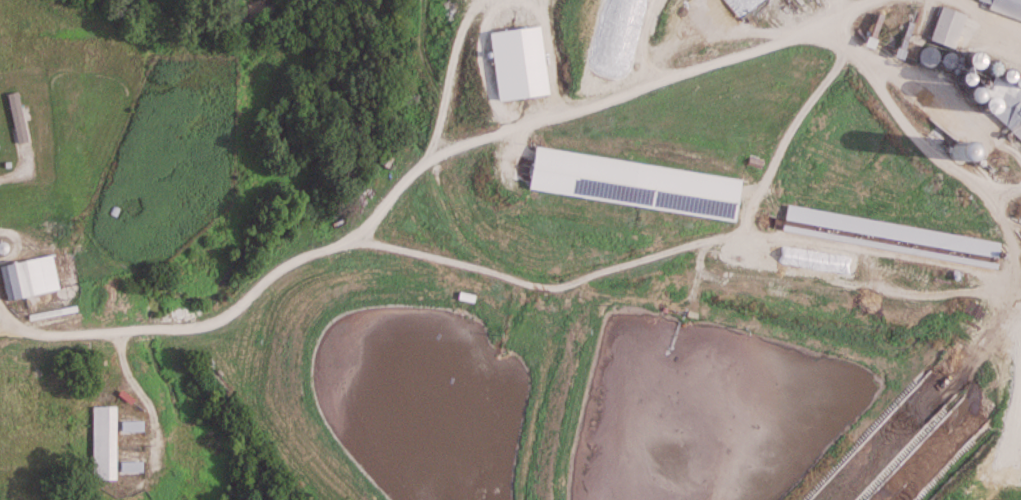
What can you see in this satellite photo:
building: (741, 6)
building: (1002, 9)
road: (983, 13)
river: (208, 28)
building: (1009, 111)
road: (413, 172)
building: (891, 238)
building: (27, 277)
building: (43, 385)
building: (134, 425)
building: (106, 442)
building: (133, 466)

